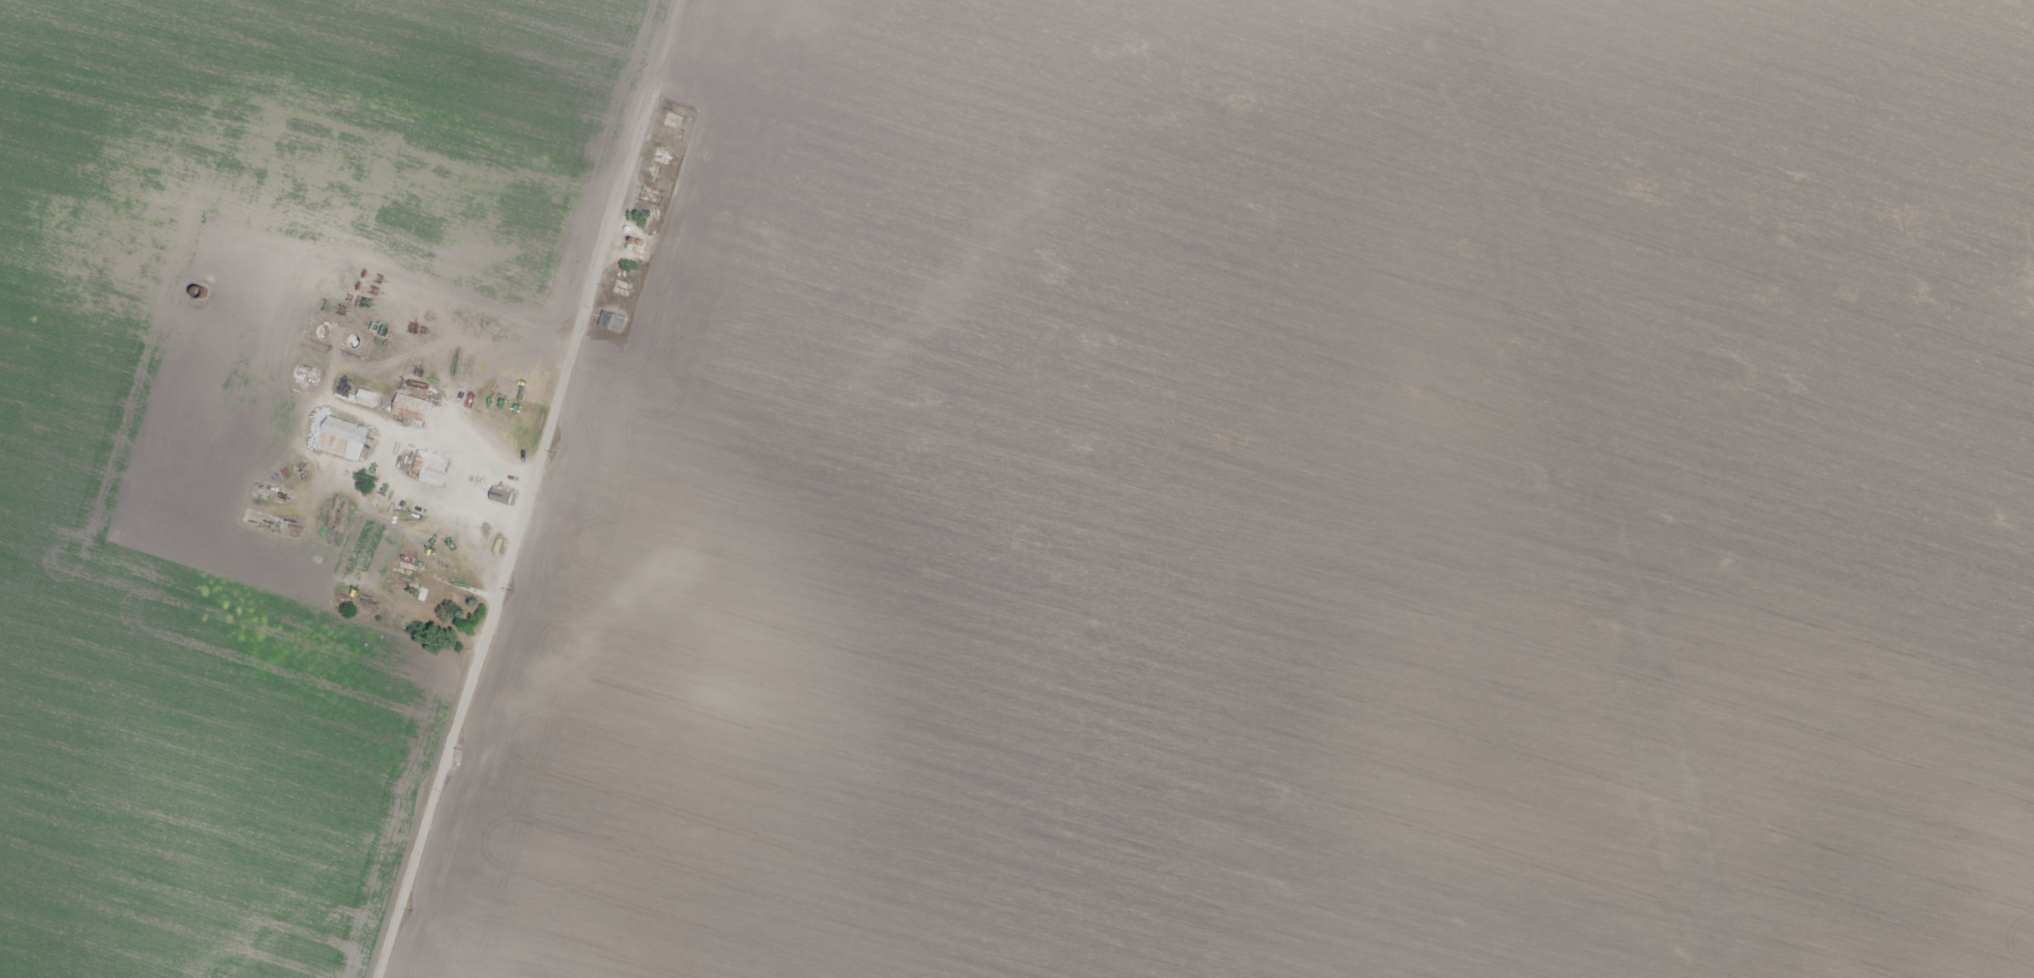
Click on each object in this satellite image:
building: (307, 376)
building: (367, 398)
building: (412, 408)
building: (342, 438)
building: (430, 468)
road: (551, 489)
building: (501, 498)

